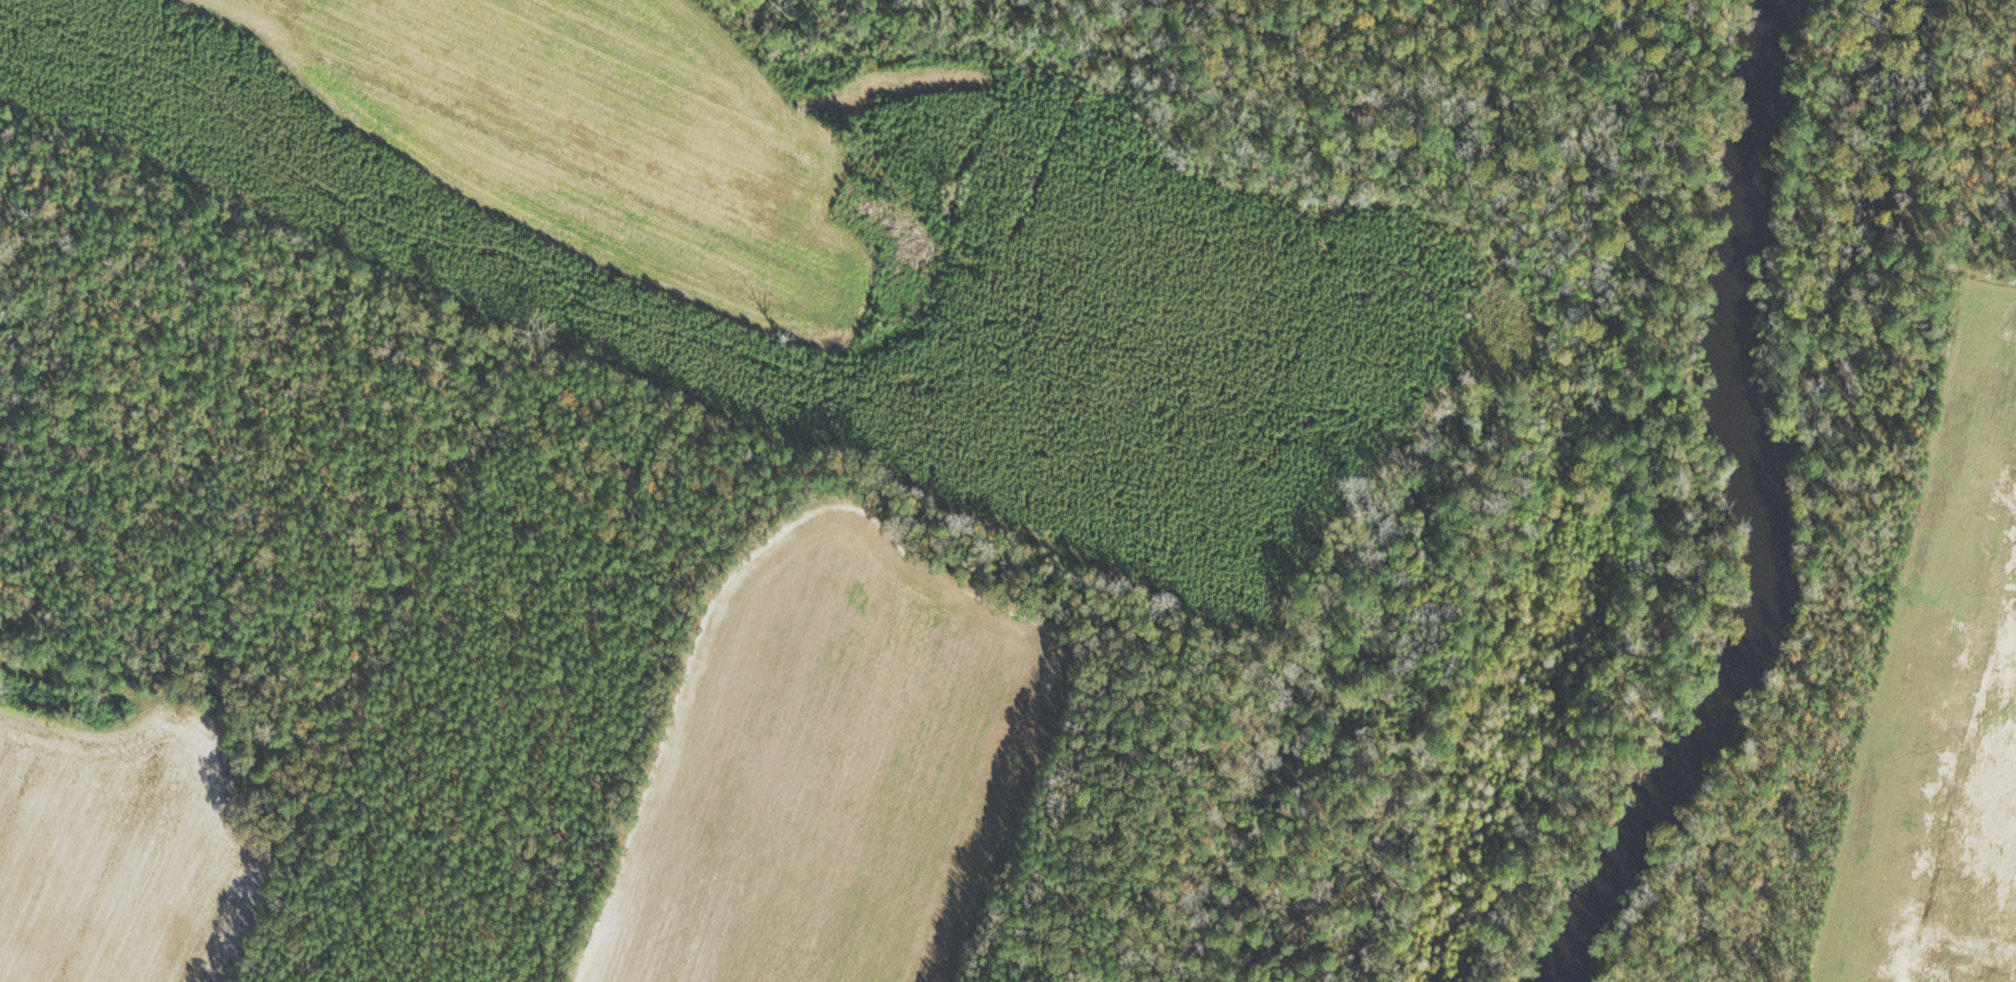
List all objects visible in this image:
river: (1765, 514)
airport: (1880, 538)

